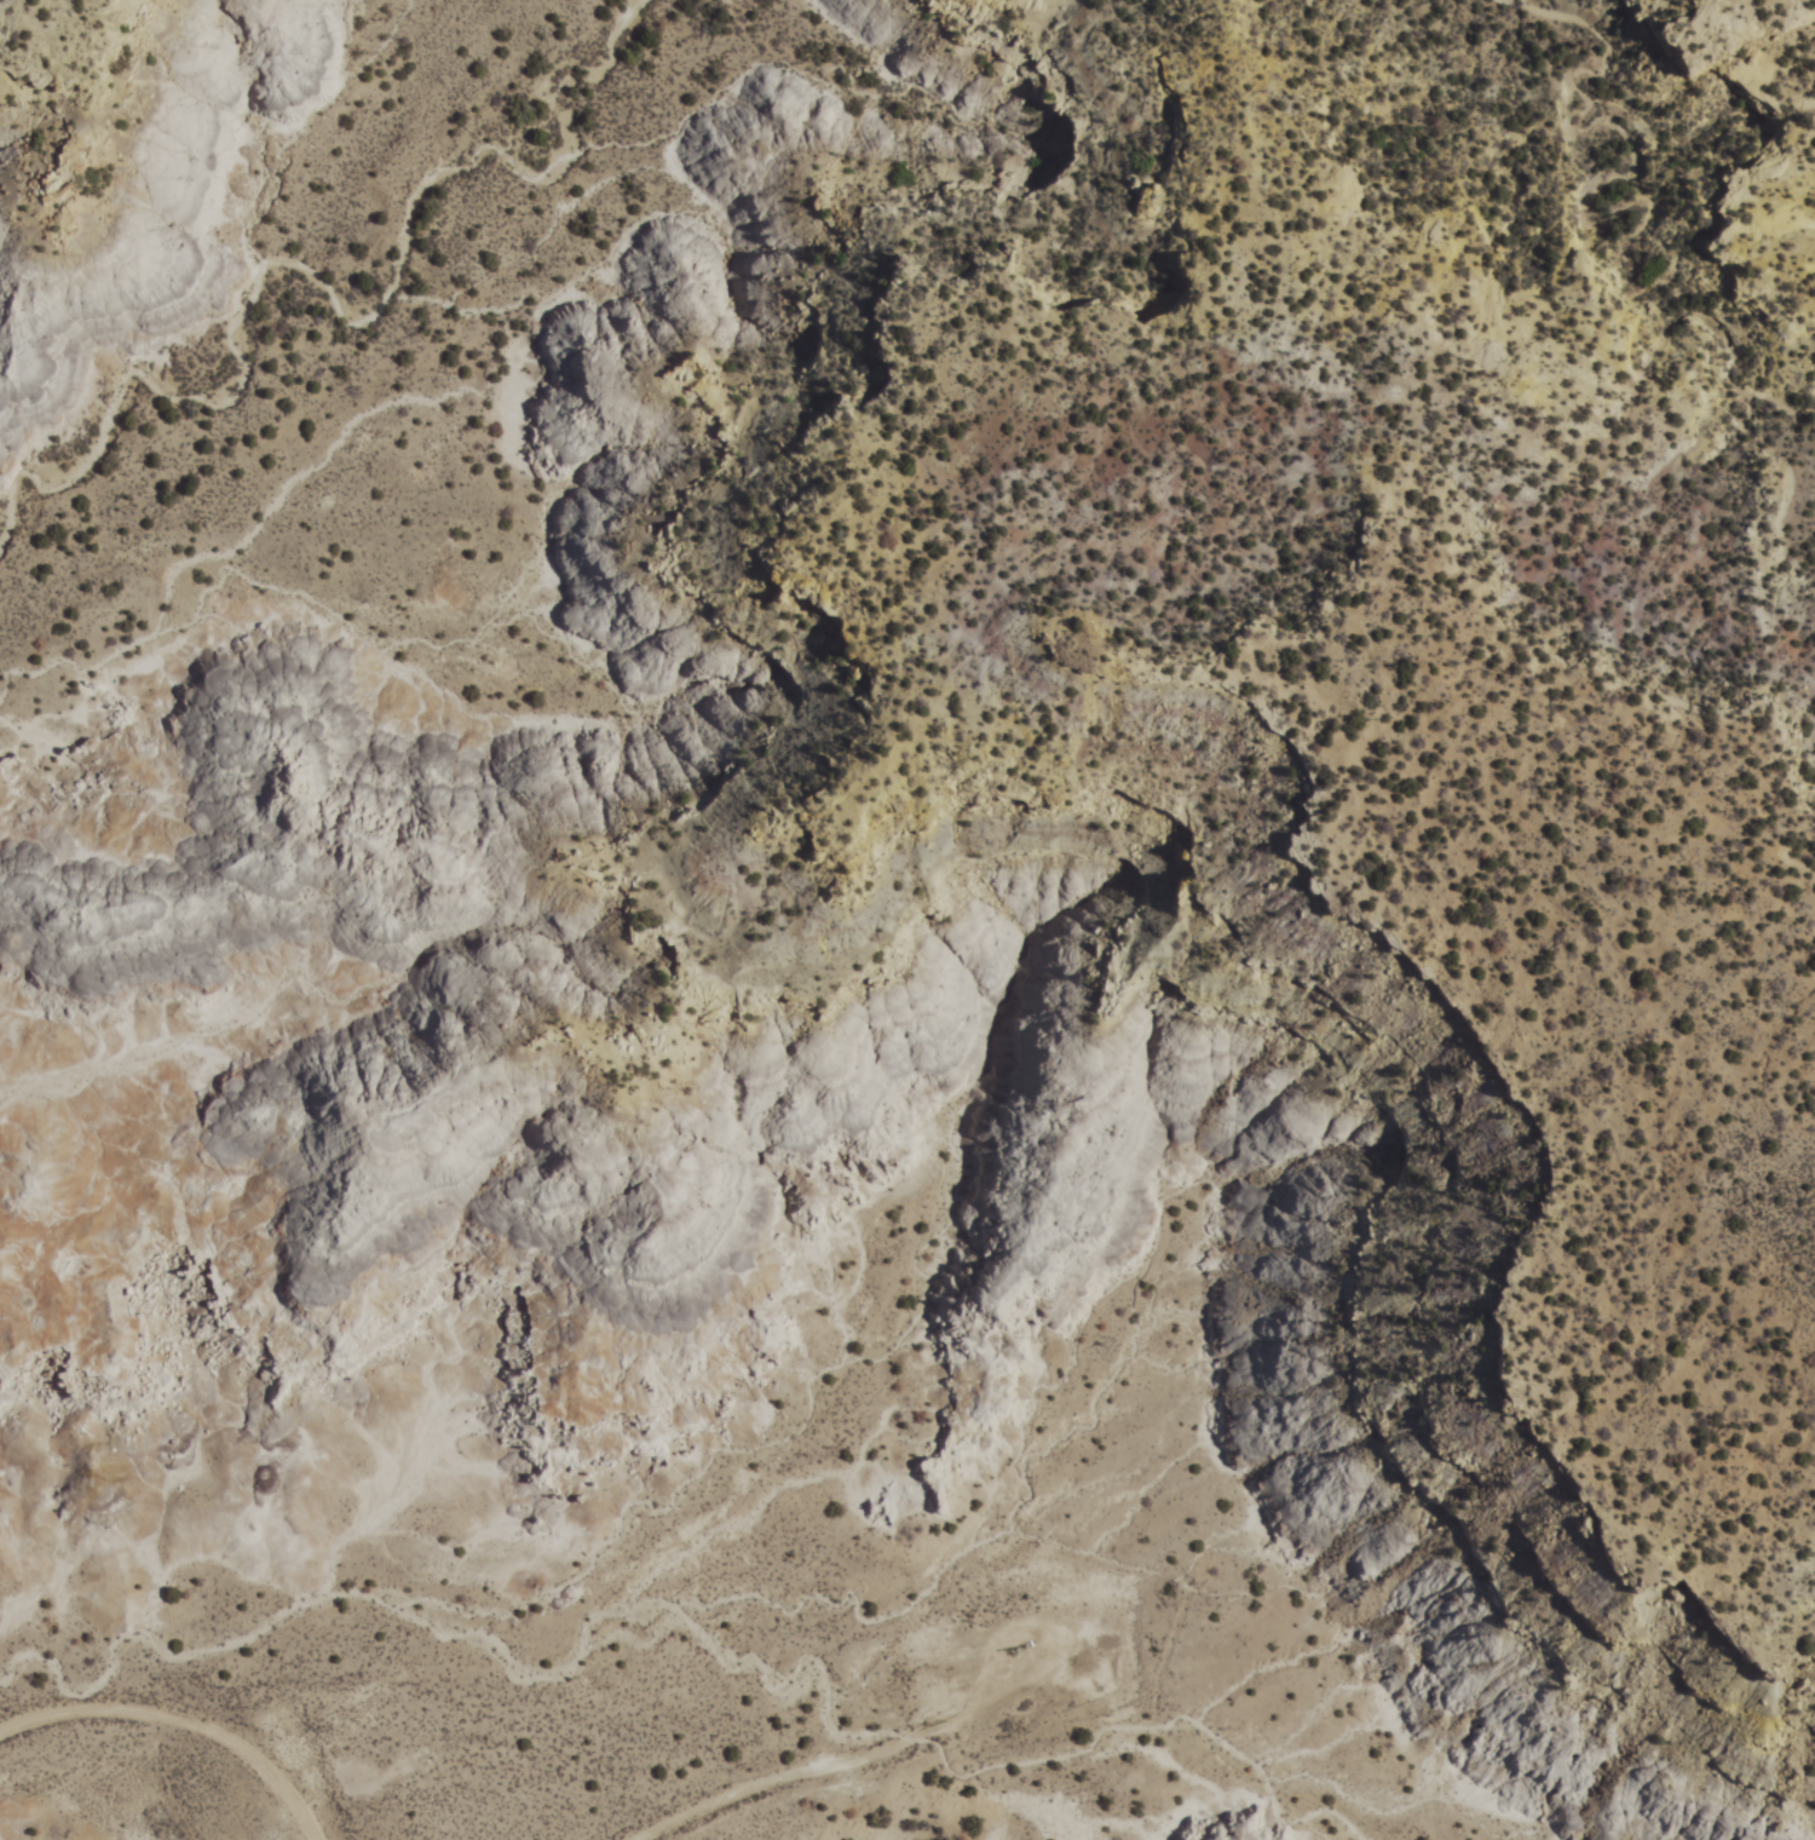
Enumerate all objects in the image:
road: (185, 1752)

